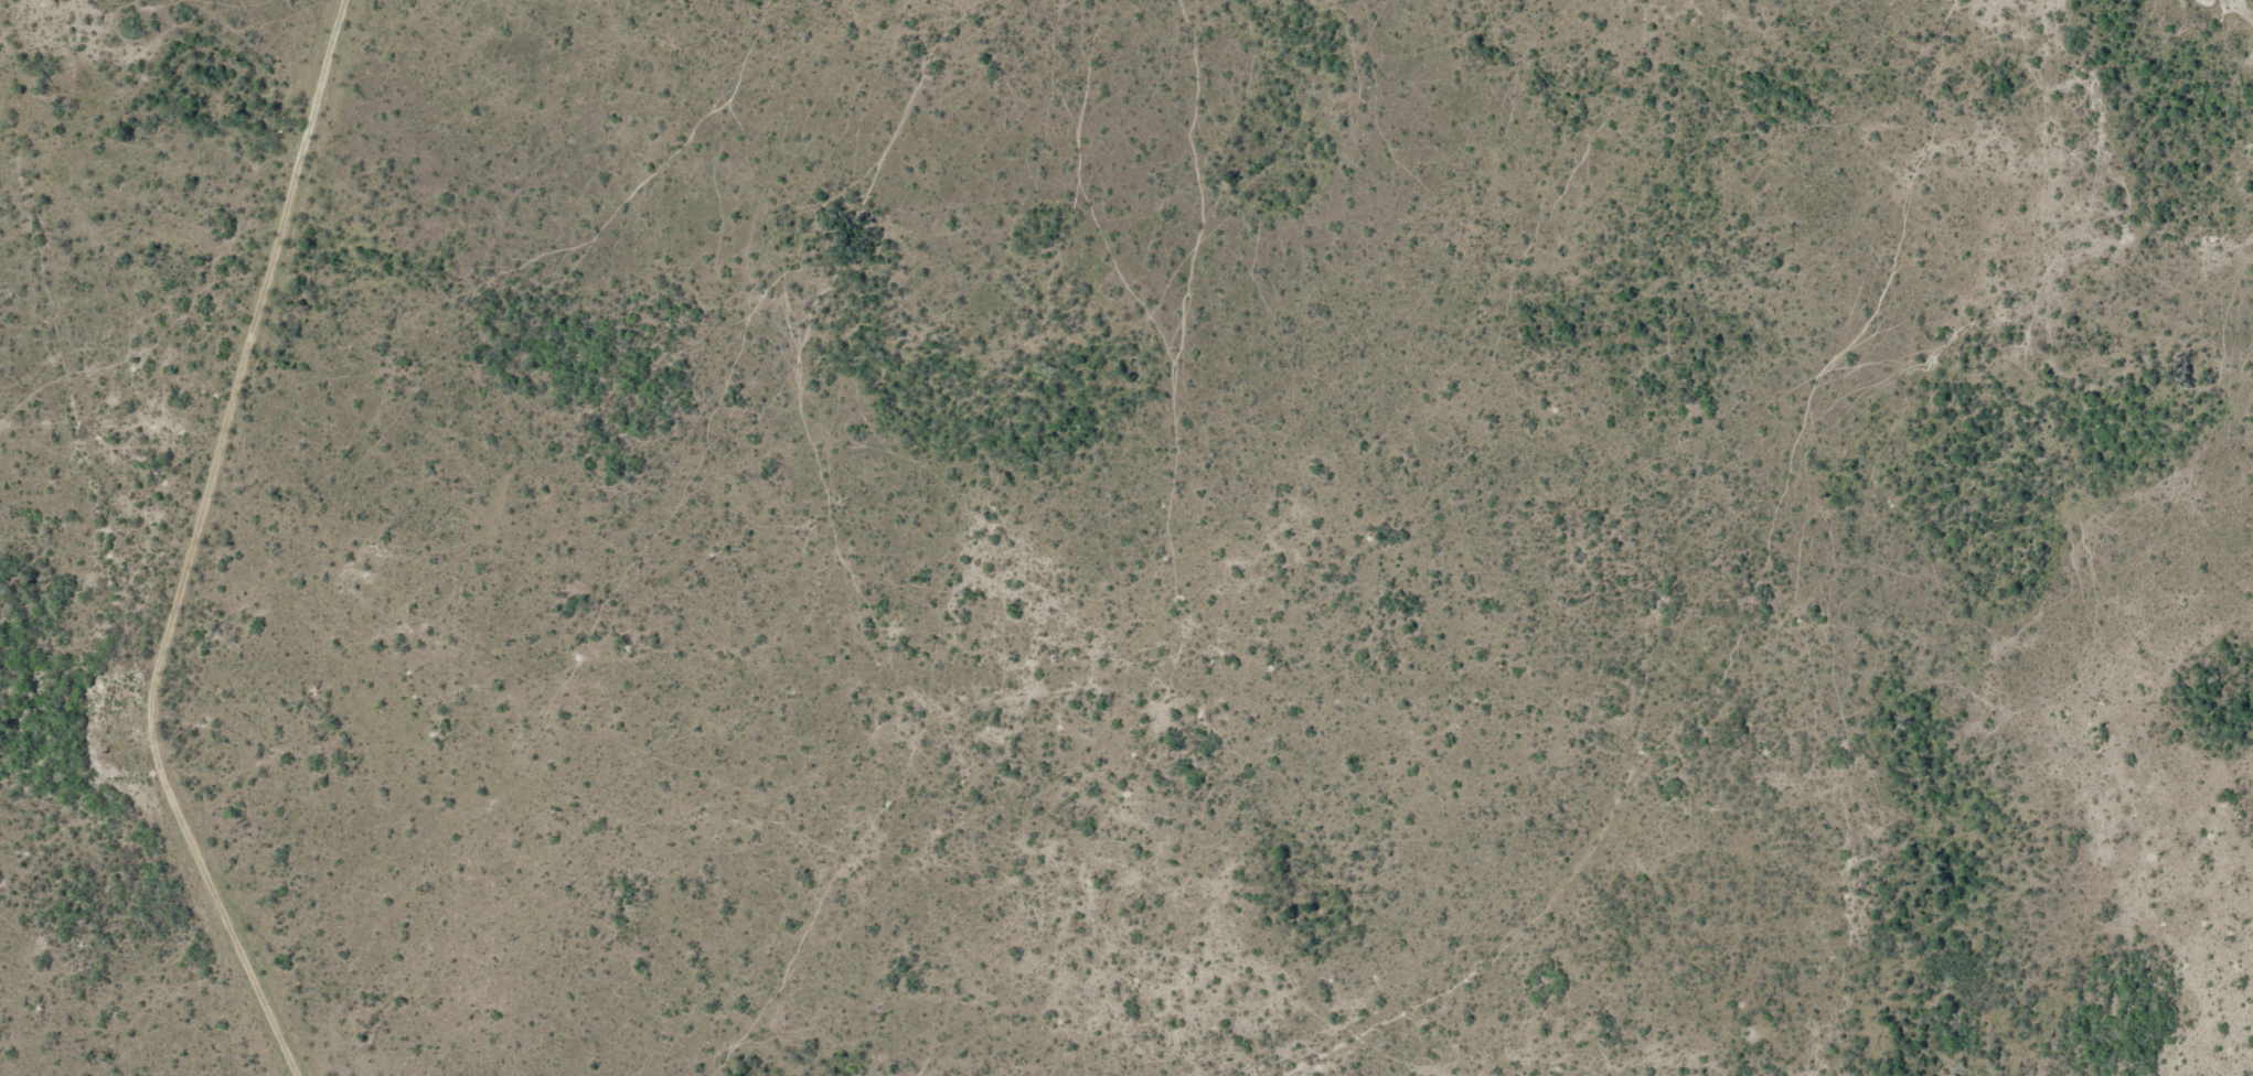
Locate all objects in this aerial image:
road: (147, 555)

